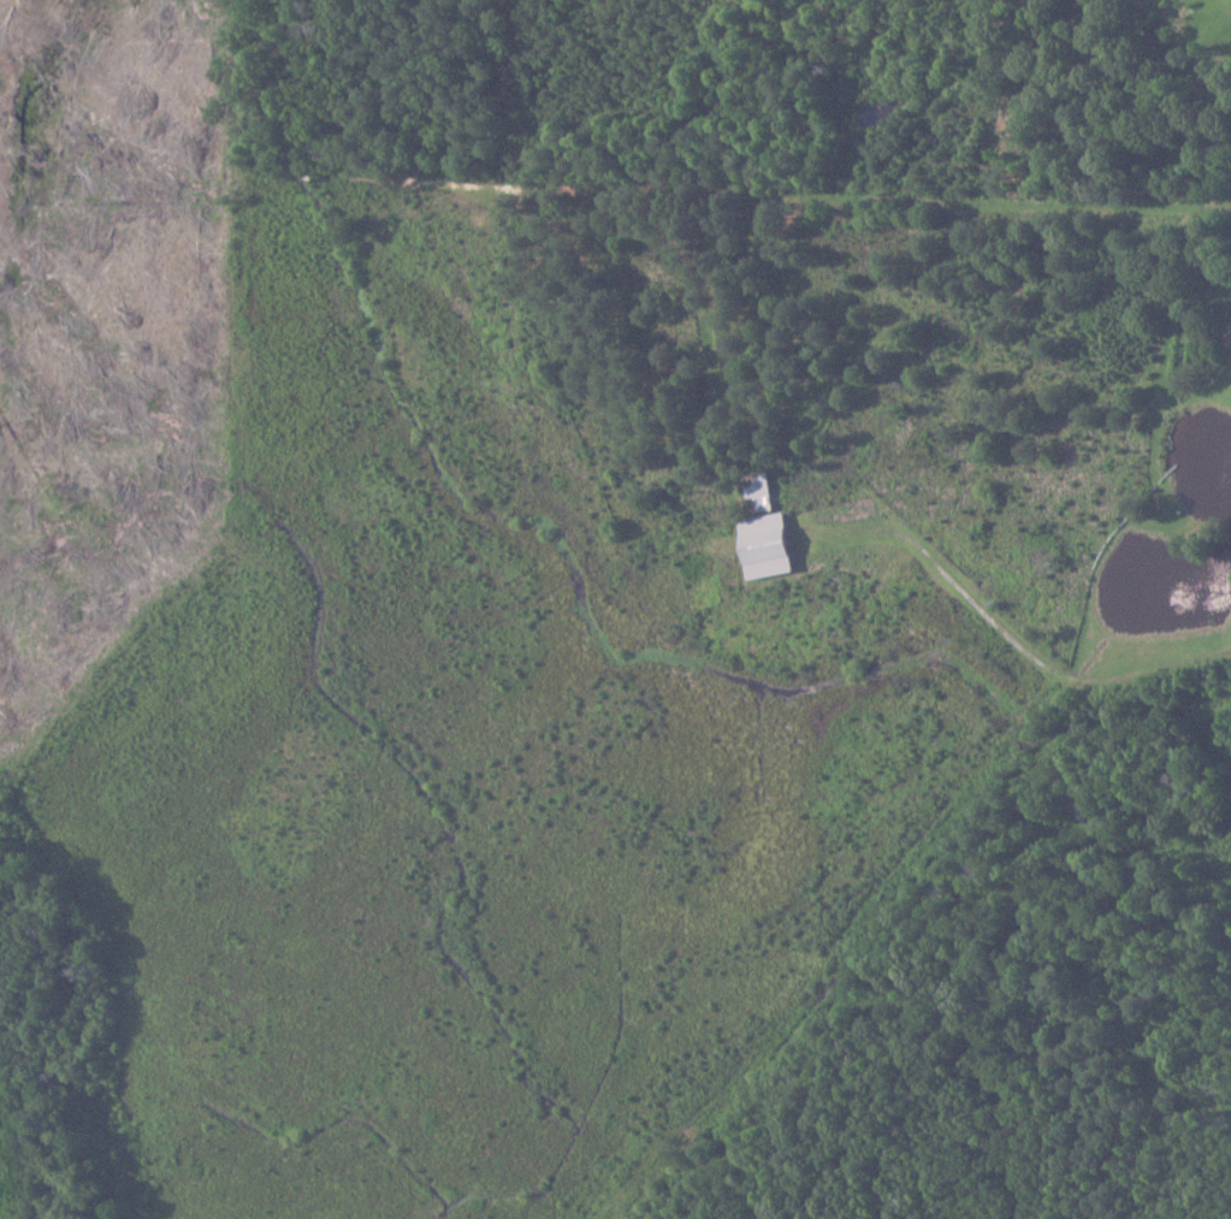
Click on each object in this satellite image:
building: (762, 490)
building: (773, 543)

